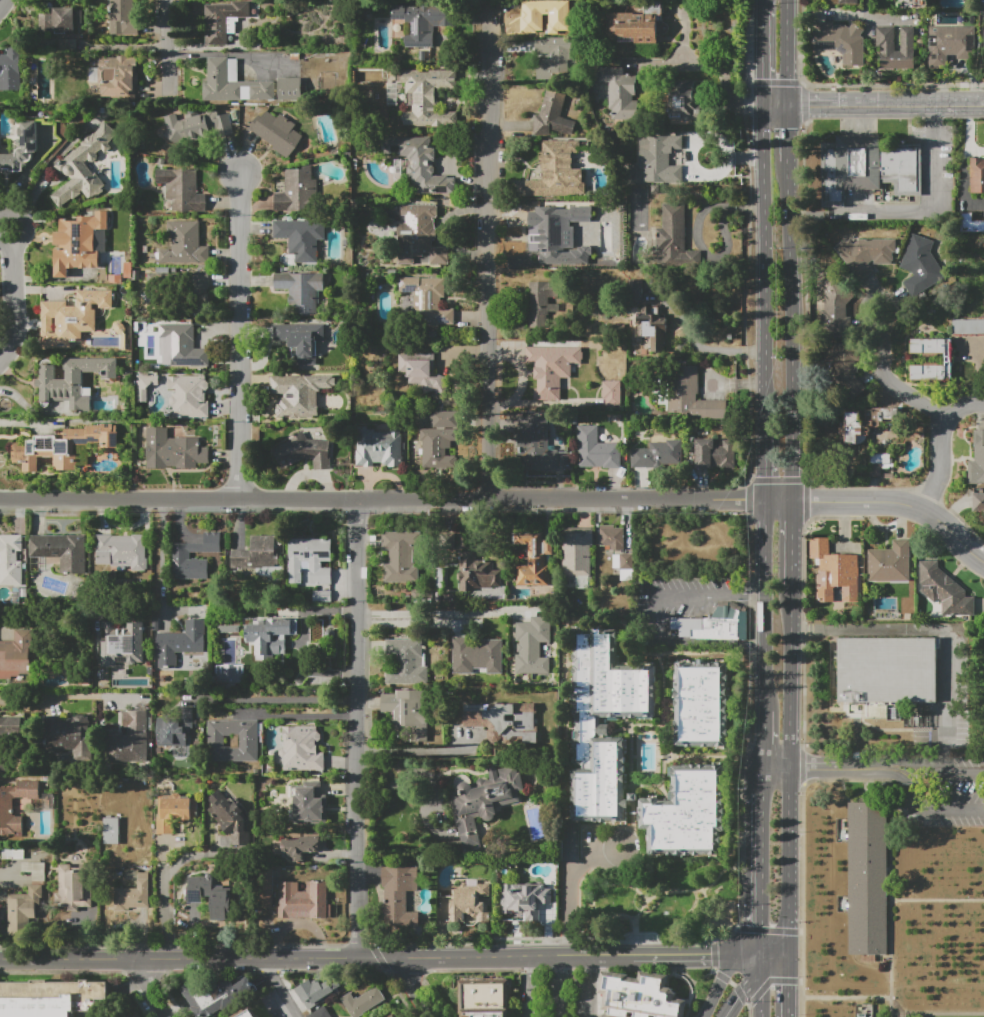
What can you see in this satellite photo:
building: (848, 2)
road: (3, 4)
road: (763, 5)
road: (866, 8)
building: (548, 10)
road: (863, 15)
building: (123, 18)
building: (57, 19)
building: (223, 20)
building: (423, 21)
building: (636, 25)
building: (840, 41)
building: (983, 41)
building: (949, 43)
road: (167, 46)
building: (894, 48)
road: (788, 51)
road: (764, 55)
building: (553, 57)
building: (10, 69)
building: (118, 77)
road: (727, 78)
traffic signals: (763, 78)
building: (245, 84)
road: (890, 85)
building: (620, 92)
building: (428, 96)
building: (685, 100)
traffic signals: (740, 101)
road: (776, 101)
traffic signals: (808, 102)
road: (833, 102)
road: (931, 102)
building: (552, 115)
building: (198, 126)
traffic signals: (789, 128)
road: (789, 131)
building: (277, 132)
building: (21, 148)
building: (657, 160)
building: (416, 163)
building: (84, 166)
building: (868, 167)
building: (558, 171)
building: (977, 176)
building: (182, 189)
building: (297, 192)
road: (433, 201)
road: (938, 207)
building: (970, 224)
road: (25, 227)
road: (438, 230)
building: (542, 234)
building: (419, 235)
building: (301, 237)
building: (675, 238)
building: (79, 243)
building: (184, 244)
building: (866, 254)
road: (491, 257)
road: (764, 259)
building: (919, 264)
building: (983, 282)
building: (196, 286)
building: (301, 289)
building: (635, 291)
building: (428, 298)
road: (12, 302)
building: (541, 302)
building: (834, 307)
building: (72, 317)
building: (968, 326)
building: (651, 327)
road: (792, 331)
road: (238, 336)
building: (300, 340)
building: (180, 346)
building: (948, 358)
building: (842, 367)
building: (552, 369)
building: (422, 372)
building: (72, 383)
building: (145, 385)
building: (611, 393)
building: (298, 394)
building: (188, 395)
building: (692, 395)
road: (906, 395)
building: (864, 421)
building: (439, 439)
building: (535, 446)
building: (62, 447)
building: (378, 447)
building: (173, 450)
building: (595, 450)
building: (304, 451)
building: (714, 453)
building: (658, 454)
road: (764, 458)
building: (977, 460)
building: (881, 464)
road: (941, 467)
road: (398, 500)
road: (900, 503)
building: (979, 503)
building: (612, 537)
road: (797, 544)
building: (60, 550)
building: (122, 551)
building: (577, 554)
building: (181, 556)
building: (401, 556)
building: (257, 557)
building: (10, 560)
building: (309, 560)
building: (535, 561)
building: (623, 561)
road: (162, 563)
building: (890, 563)
building: (835, 567)
building: (476, 572)
building: (944, 590)
road: (757, 594)
building: (321, 596)
road: (765, 606)
road: (49, 614)
road: (426, 617)
building: (713, 624)
road: (656, 625)
building: (228, 629)
road: (942, 630)
building: (271, 636)
building: (123, 643)
building: (180, 643)
building: (530, 649)
building: (18, 655)
building: (477, 655)
building: (406, 663)
building: (889, 670)
building: (229, 674)
road: (795, 678)
road: (70, 700)
road: (272, 700)
building: (701, 703)
building: (407, 714)
road: (296, 715)
building: (503, 721)
building: (604, 722)
building: (174, 728)
road: (357, 728)
building: (68, 735)
building: (8, 737)
building: (128, 739)
building: (232, 740)
road: (766, 740)
building: (301, 749)
road: (419, 751)
road: (913, 763)
road: (802, 765)
road: (780, 769)
road: (819, 769)
road: (887, 772)
road: (405, 779)
road: (766, 780)
road: (911, 781)
road: (846, 782)
parking lot: (951, 792)
building: (483, 800)
building: (305, 802)
building: (6, 807)
road: (948, 810)
building: (175, 812)
building: (686, 813)
building: (229, 817)
building: (111, 831)
building: (300, 846)
building: (12, 853)
road: (628, 856)
road: (794, 861)
building: (34, 870)
road: (764, 873)
building: (867, 875)
building: (74, 886)
building: (265, 887)
building: (131, 889)
road: (163, 889)
road: (572, 893)
building: (398, 894)
building: (220, 898)
road: (890, 898)
building: (526, 899)
road: (801, 899)
building: (303, 901)
park: (657, 901)
road: (937, 901)
building: (465, 904)
building: (23, 910)
traffic signals: (763, 926)
road: (768, 929)
road: (726, 937)
road: (697, 955)
traffic signals: (712, 955)
road: (778, 955)
road: (316, 957)
road: (561, 962)
road: (591, 962)
road: (531, 963)
road: (778, 964)
road: (724, 976)
traffic signals: (793, 984)
road: (793, 985)
road: (281, 986)
road: (415, 986)
road: (762, 986)
road: (149, 987)
building: (317, 992)
parking lot: (559, 992)
road: (560, 993)
road: (591, 993)
road: (740, 993)
road: (531, 994)
building: (641, 996)
building: (210, 997)
traffic signals: (738, 997)
road: (845, 997)
building: (51, 998)
building: (485, 998)
road: (743, 999)
building: (363, 1002)
road: (746, 1011)
building: (319, 1013)
road: (937, 1013)
building: (126, 1014)
building: (250, 1014)
building: (396, 1016)

